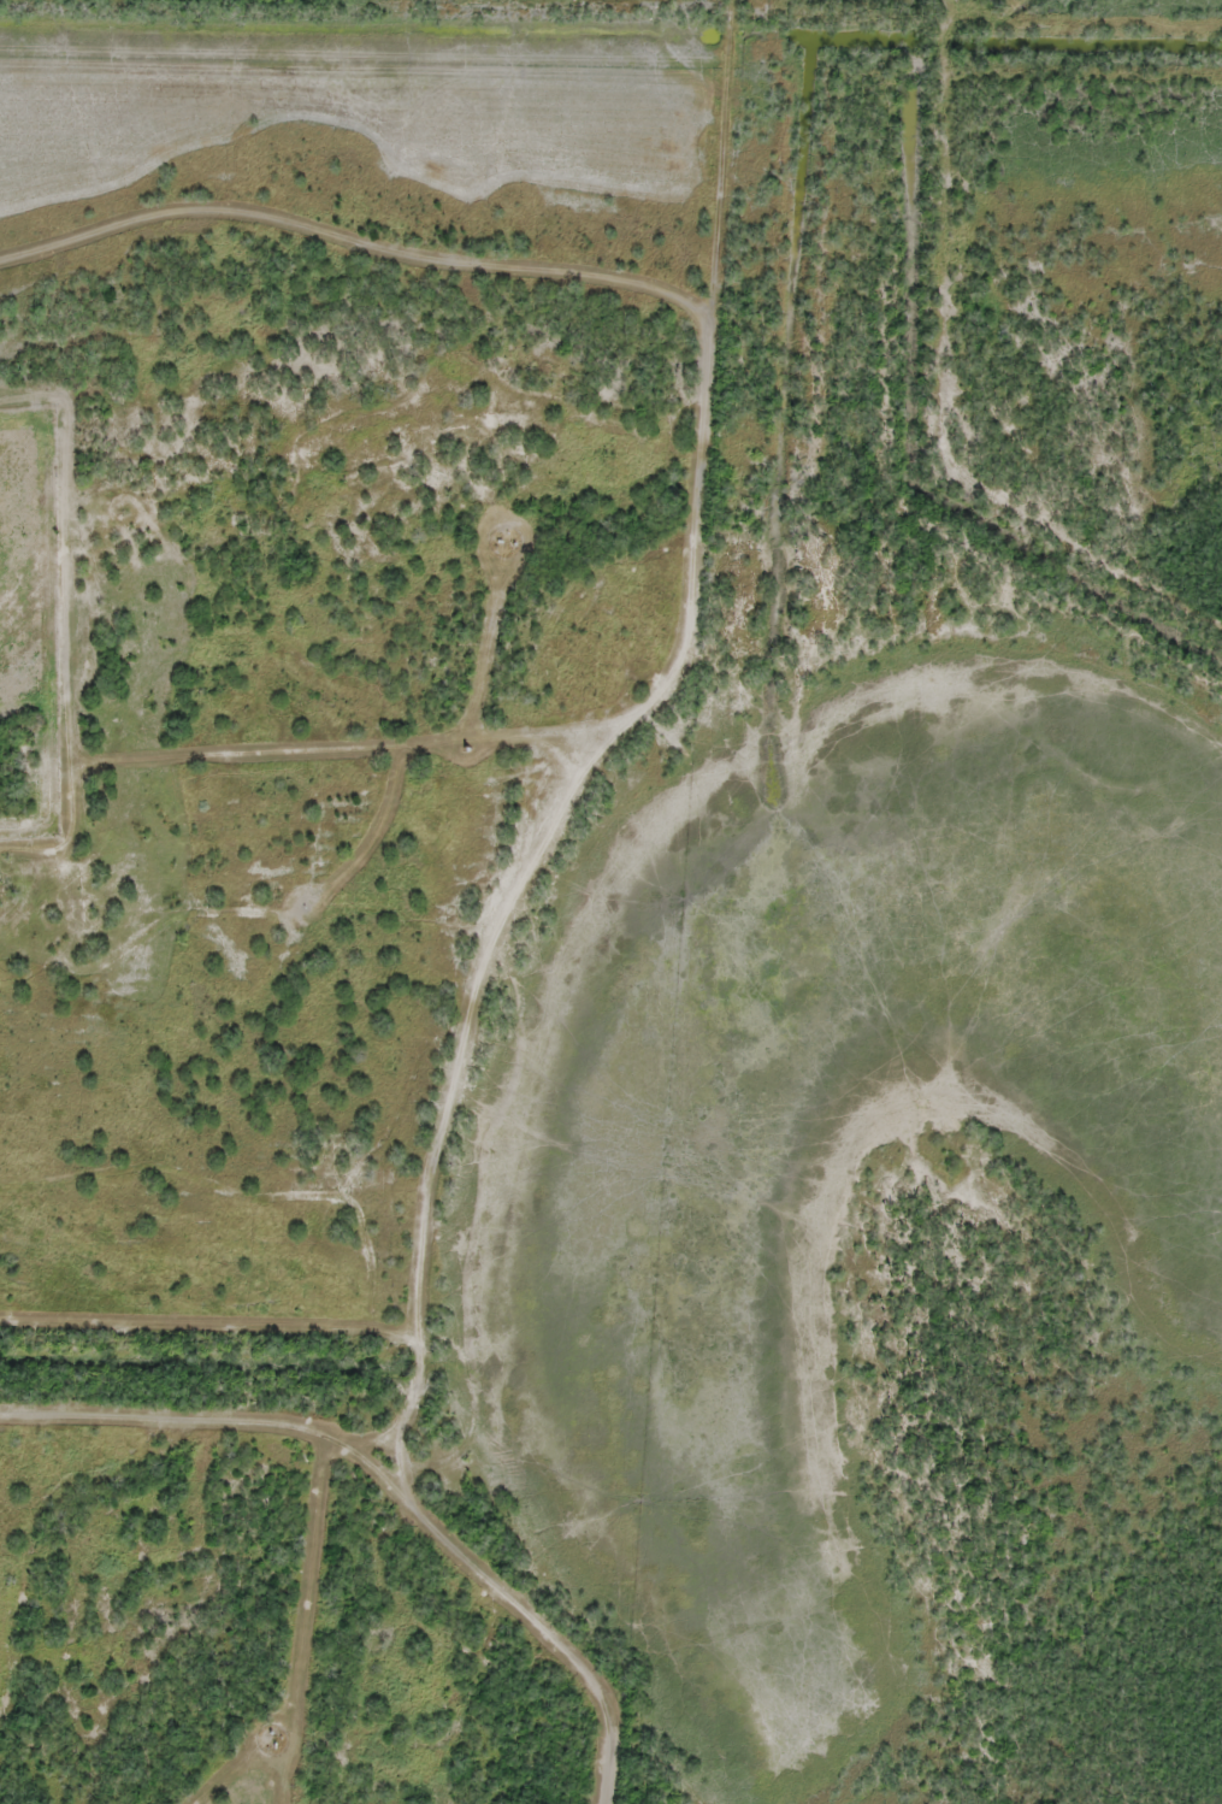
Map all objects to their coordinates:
road: (1004, 263)
road: (1134, 1729)

